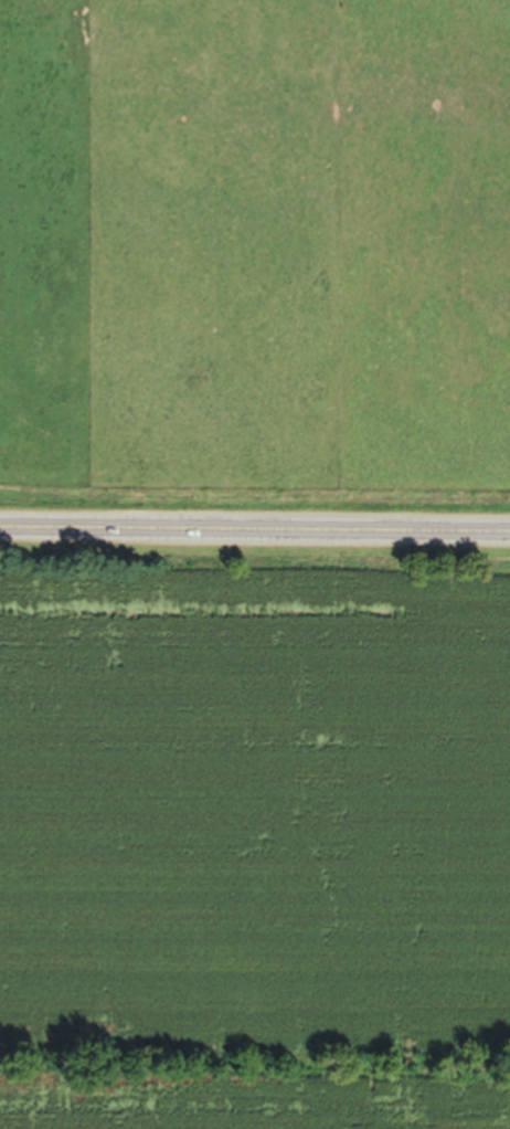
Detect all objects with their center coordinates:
road: (255, 540)

